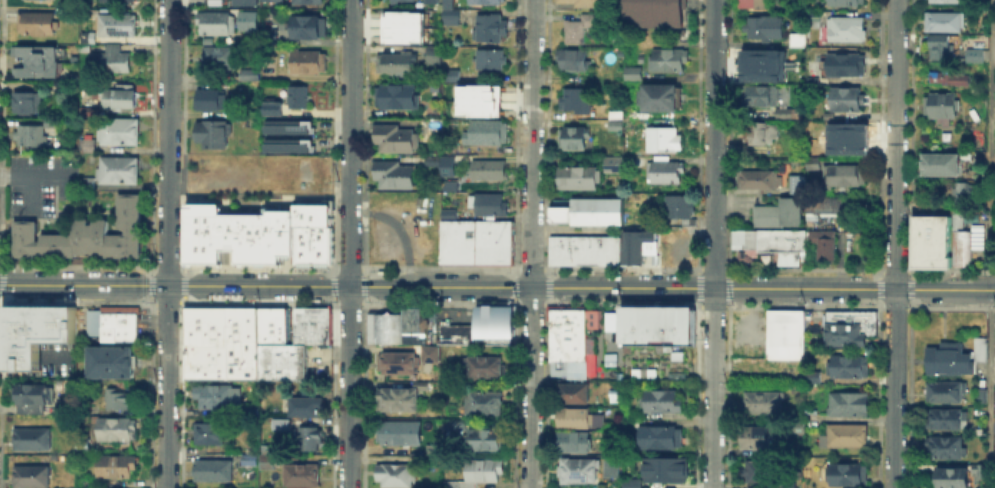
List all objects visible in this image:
building: (35, 0)
building: (113, 0)
building: (273, 1)
building: (404, 1)
building: (430, 1)
building: (243, 2)
building: (309, 2)
building: (486, 2)
building: (942, 2)
building: (449, 3)
building: (846, 3)
building: (744, 4)
building: (581, 5)
building: (649, 13)
building: (251, 17)
building: (451, 19)
building: (812, 21)
building: (944, 21)
building: (216, 23)
building: (36, 25)
building: (401, 26)
building: (115, 27)
building: (309, 28)
building: (844, 28)
building: (489, 29)
building: (579, 29)
building: (765, 29)
building: (270, 36)
building: (88, 37)
building: (797, 41)
building: (943, 47)
building: (974, 55)
building: (220, 56)
building: (434, 56)
building: (115, 59)
building: (491, 60)
building: (37, 61)
building: (663, 61)
building: (574, 62)
building: (843, 63)
building: (309, 64)
building: (395, 64)
building: (762, 64)
building: (629, 75)
building: (949, 75)
building: (246, 76)
building: (448, 77)
building: (295, 95)
building: (761, 95)
building: (845, 95)
building: (399, 97)
building: (657, 98)
building: (119, 99)
building: (477, 99)
building: (211, 100)
building: (578, 101)
building: (994, 102)
building: (28, 103)
building: (270, 107)
building: (940, 108)
building: (88, 112)
building: (780, 113)
building: (52, 123)
building: (292, 127)
building: (120, 133)
building: (487, 134)
building: (760, 134)
building: (213, 135)
building: (31, 136)
building: (573, 138)
building: (395, 139)
building: (849, 139)
building: (659, 141)
building: (292, 145)
building: (88, 148)
building: (430, 159)
building: (631, 162)
building: (611, 163)
building: (939, 163)
building: (445, 165)
building: (120, 171)
building: (309, 171)
building: (490, 171)
building: (661, 172)
road: (29, 176)
building: (395, 176)
building: (843, 176)
building: (578, 177)
building: (273, 178)
building: (761, 182)
building: (794, 182)
building: (448, 184)
building: (87, 185)
building: (966, 191)
building: (820, 204)
building: (490, 205)
building: (674, 207)
building: (559, 209)
building: (595, 210)
building: (451, 213)
building: (779, 213)
building: (252, 218)
building: (955, 218)
building: (918, 221)
road: (400, 229)
road: (604, 229)
building: (84, 234)
building: (647, 234)
building: (285, 239)
building: (475, 240)
building: (821, 241)
building: (742, 242)
road: (167, 243)
building: (193, 243)
building: (210, 243)
building: (242, 243)
building: (256, 243)
building: (270, 243)
building: (302, 243)
building: (319, 243)
road: (349, 243)
road: (531, 243)
road: (713, 243)
building: (780, 243)
building: (963, 243)
road: (892, 244)
road: (987, 244)
building: (631, 246)
building: (940, 247)
building: (918, 248)
building: (929, 248)
building: (561, 249)
building: (590, 249)
building: (612, 249)
road: (497, 286)
building: (487, 314)
building: (502, 315)
building: (40, 319)
building: (112, 322)
building: (204, 323)
building: (271, 324)
building: (302, 324)
building: (320, 324)
building: (412, 324)
building: (627, 324)
building: (649, 324)
building: (678, 324)
building: (848, 326)
building: (382, 327)
building: (812, 327)
building: (488, 329)
building: (568, 332)
building: (784, 332)
building: (455, 333)
building: (240, 341)
building: (624, 347)
building: (664, 347)
building: (978, 347)
building: (427, 348)
building: (675, 354)
building: (948, 358)
building: (108, 360)
building: (204, 360)
building: (280, 360)
building: (395, 361)
building: (479, 365)
building: (566, 367)
building: (850, 368)
building: (814, 379)
building: (945, 393)
building: (214, 394)
building: (571, 394)
building: (979, 396)
building: (30, 399)
building: (400, 399)
building: (120, 401)
building: (303, 402)
building: (662, 403)
building: (763, 403)
building: (483, 404)
building: (850, 404)
building: (63, 406)
building: (579, 419)
building: (947, 420)
building: (279, 424)
building: (452, 425)
building: (114, 429)
building: (397, 434)
building: (210, 435)
building: (846, 437)
building: (310, 438)
building: (658, 438)
building: (762, 439)
building: (32, 441)
building: (487, 441)
building: (573, 442)
building: (81, 447)
building: (945, 448)
building: (432, 451)
building: (268, 461)
building: (115, 467)
building: (609, 467)
building: (664, 469)
building: (760, 469)
building: (483, 471)
building: (983, 471)
building: (215, 472)
building: (579, 472)
building: (848, 475)
building: (32, 477)
building: (303, 477)
building: (395, 477)
building: (952, 478)
building: (631, 483)

